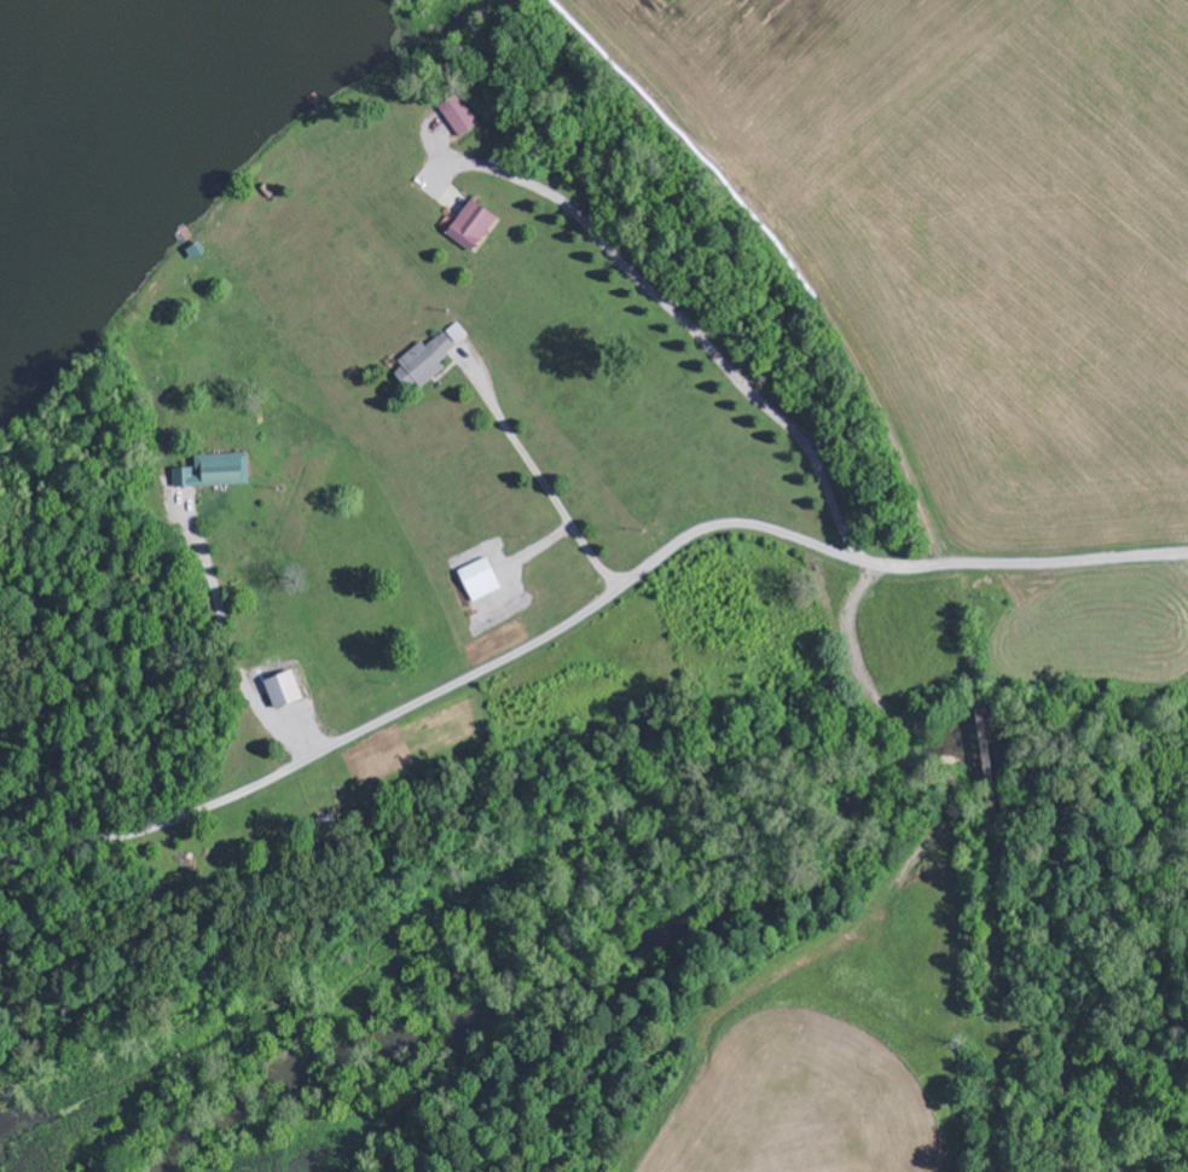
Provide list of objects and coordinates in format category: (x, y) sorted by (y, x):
building: (459, 116)
building: (471, 225)
building: (429, 356)
building: (216, 469)
road: (537, 477)
road: (584, 613)
road: (227, 643)
building: (283, 687)

